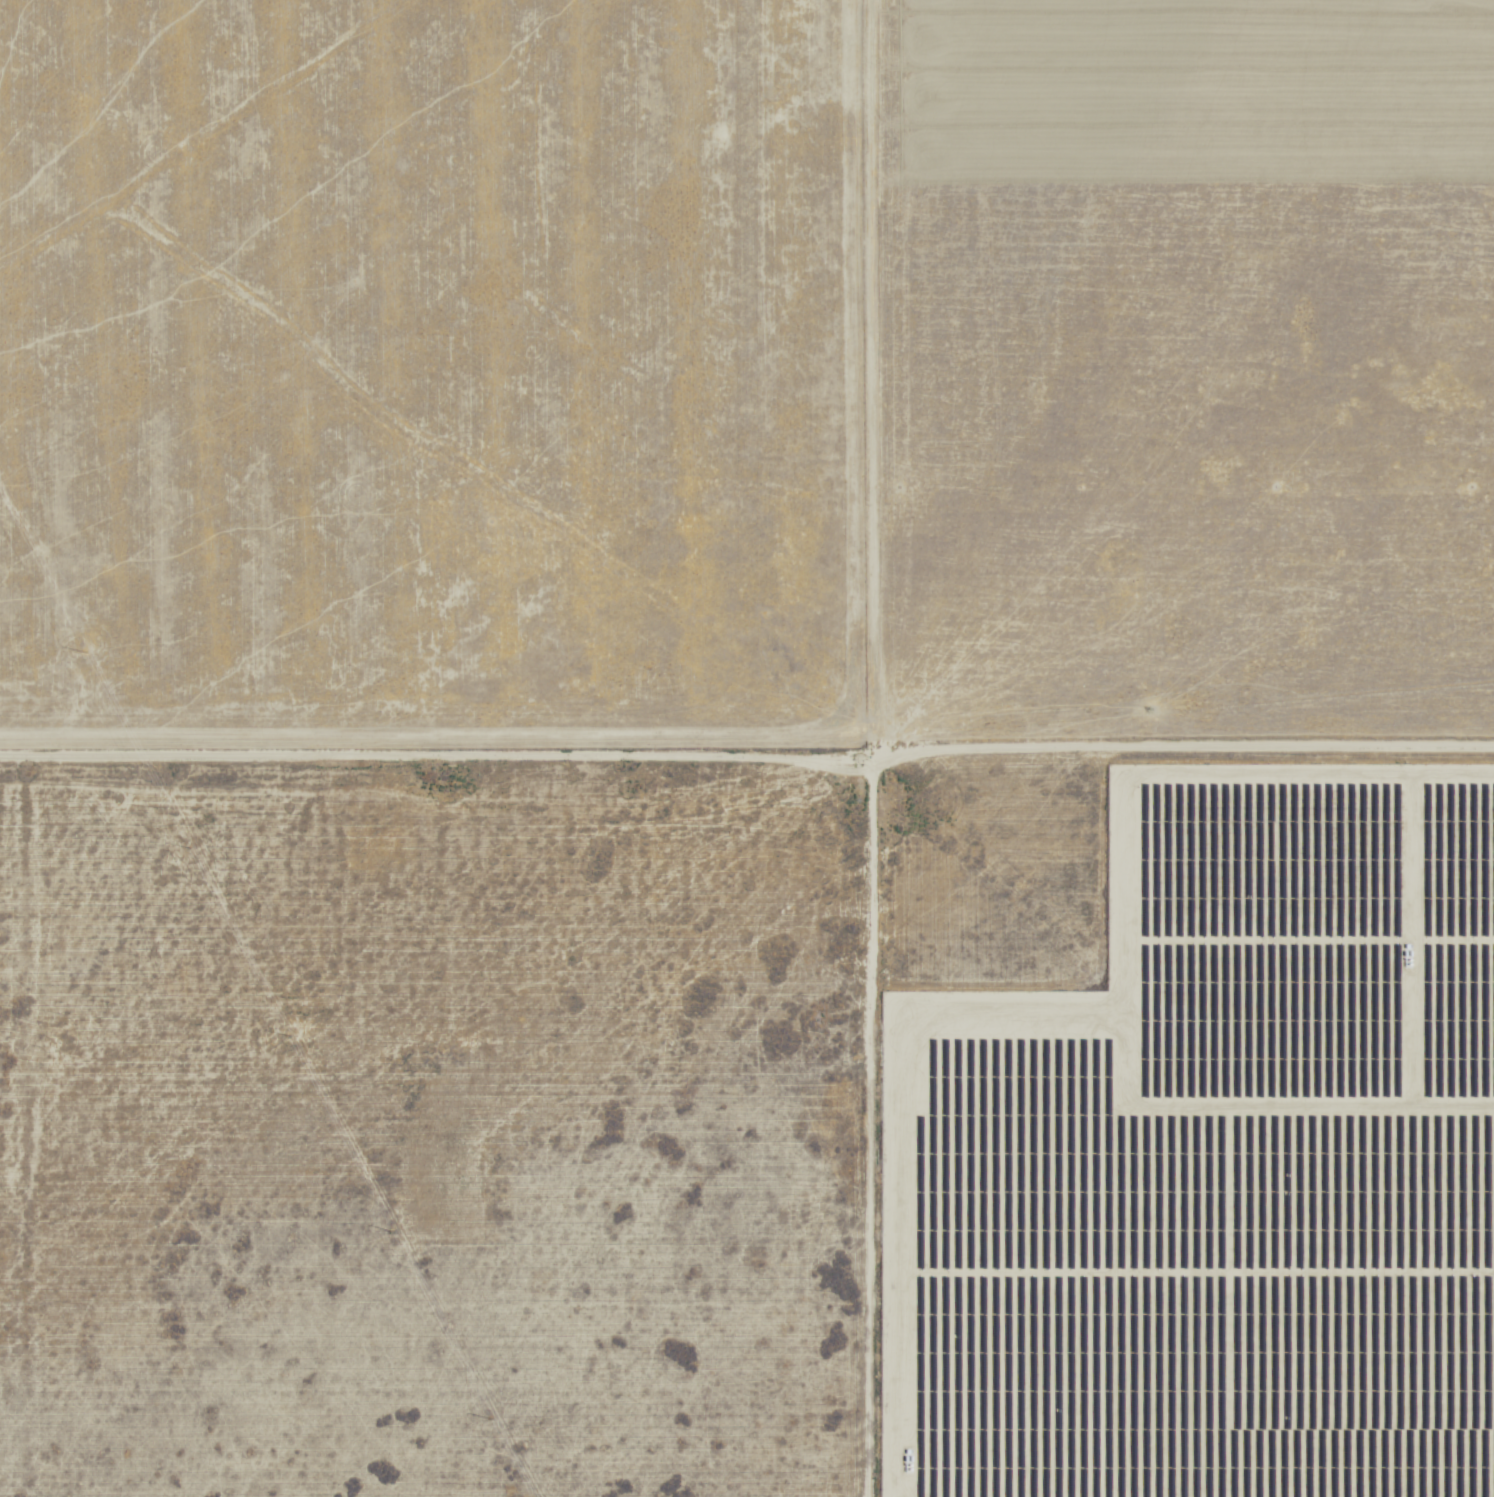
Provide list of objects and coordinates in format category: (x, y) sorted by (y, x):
road: (779, 384)
road: (749, 768)

